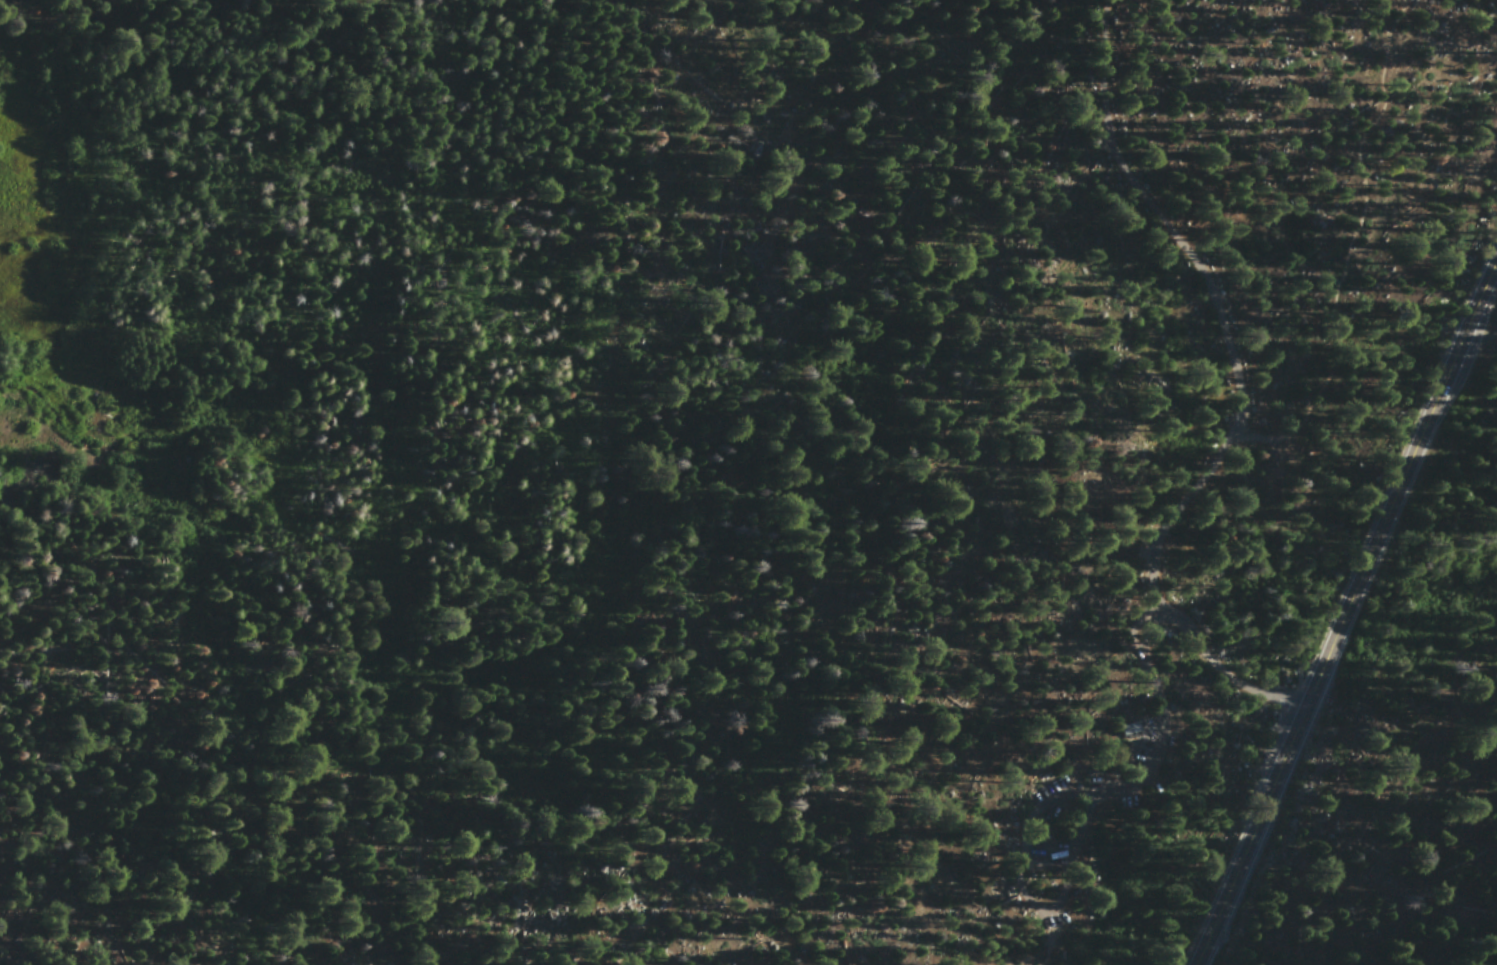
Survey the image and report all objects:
road: (1159, 215)
road: (1353, 249)
road: (1399, 479)
road: (1175, 509)
road: (1220, 670)
road: (1161, 698)
building: (1127, 728)
road: (1024, 822)
parking lot: (1078, 823)
road: (1249, 835)
road: (1076, 838)
road: (1053, 936)

